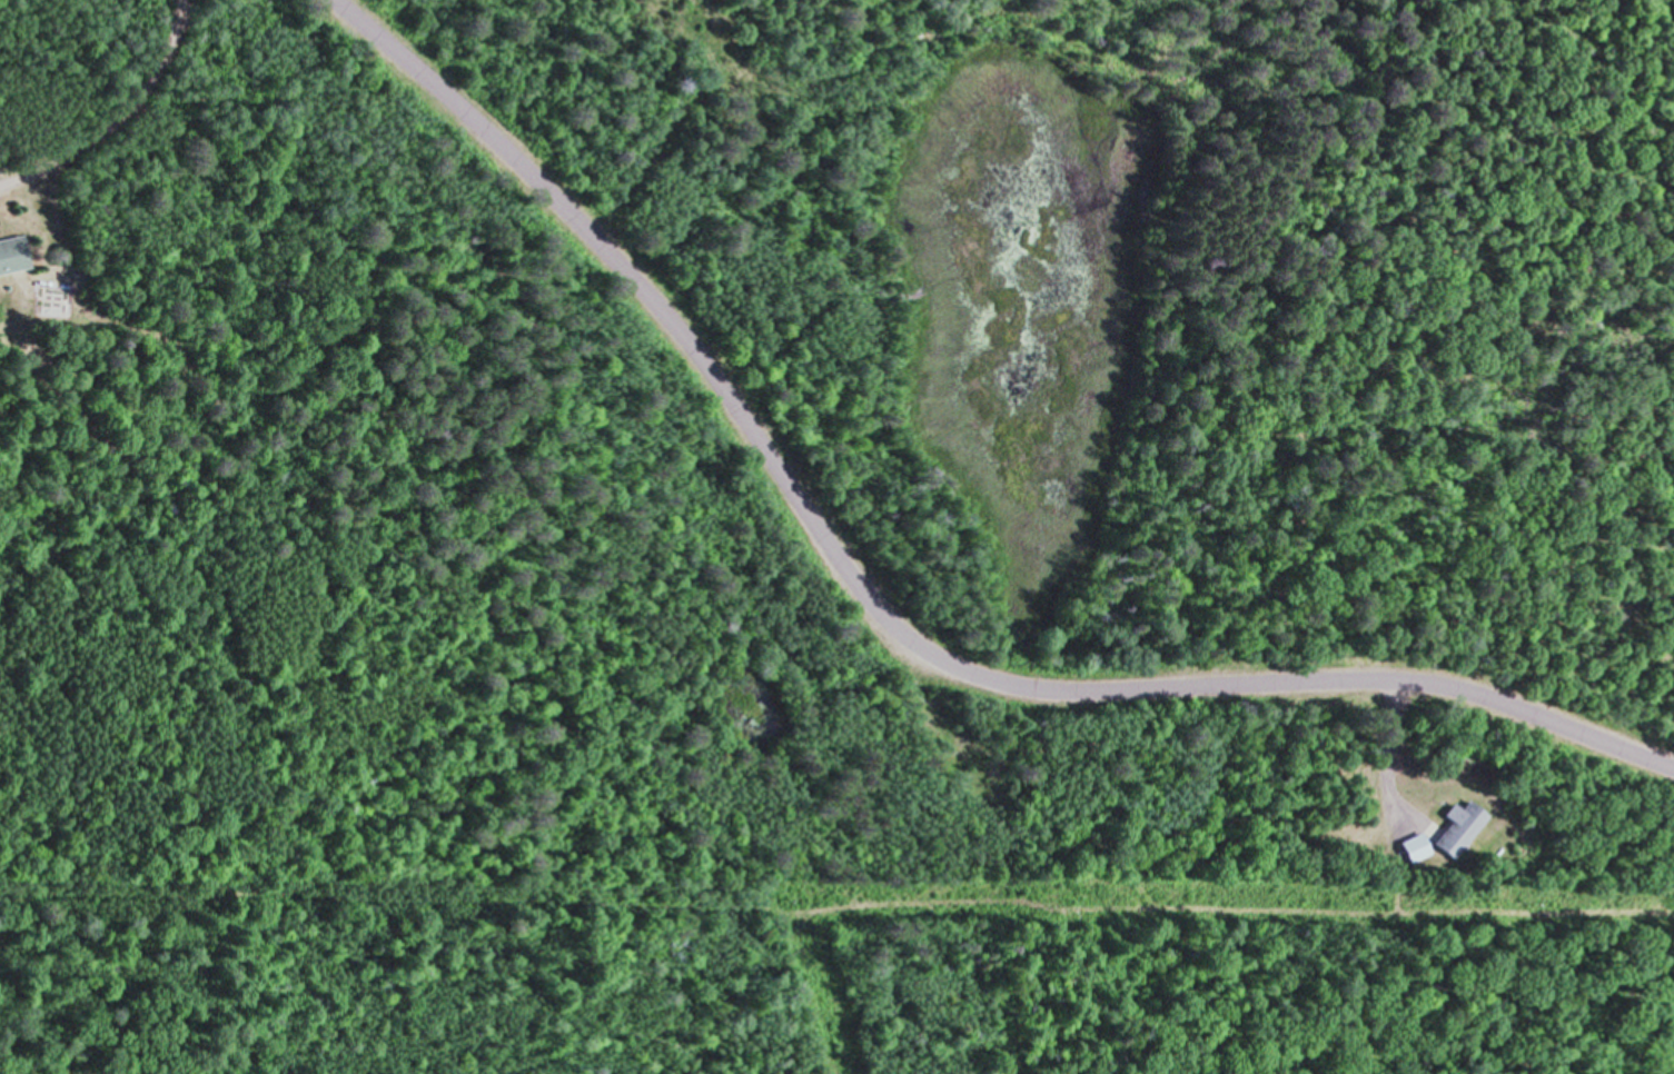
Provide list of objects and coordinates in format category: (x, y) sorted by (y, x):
road: (118, 117)
building: (11, 252)
road: (879, 618)
road: (1379, 748)
building: (1452, 827)
building: (1407, 845)

